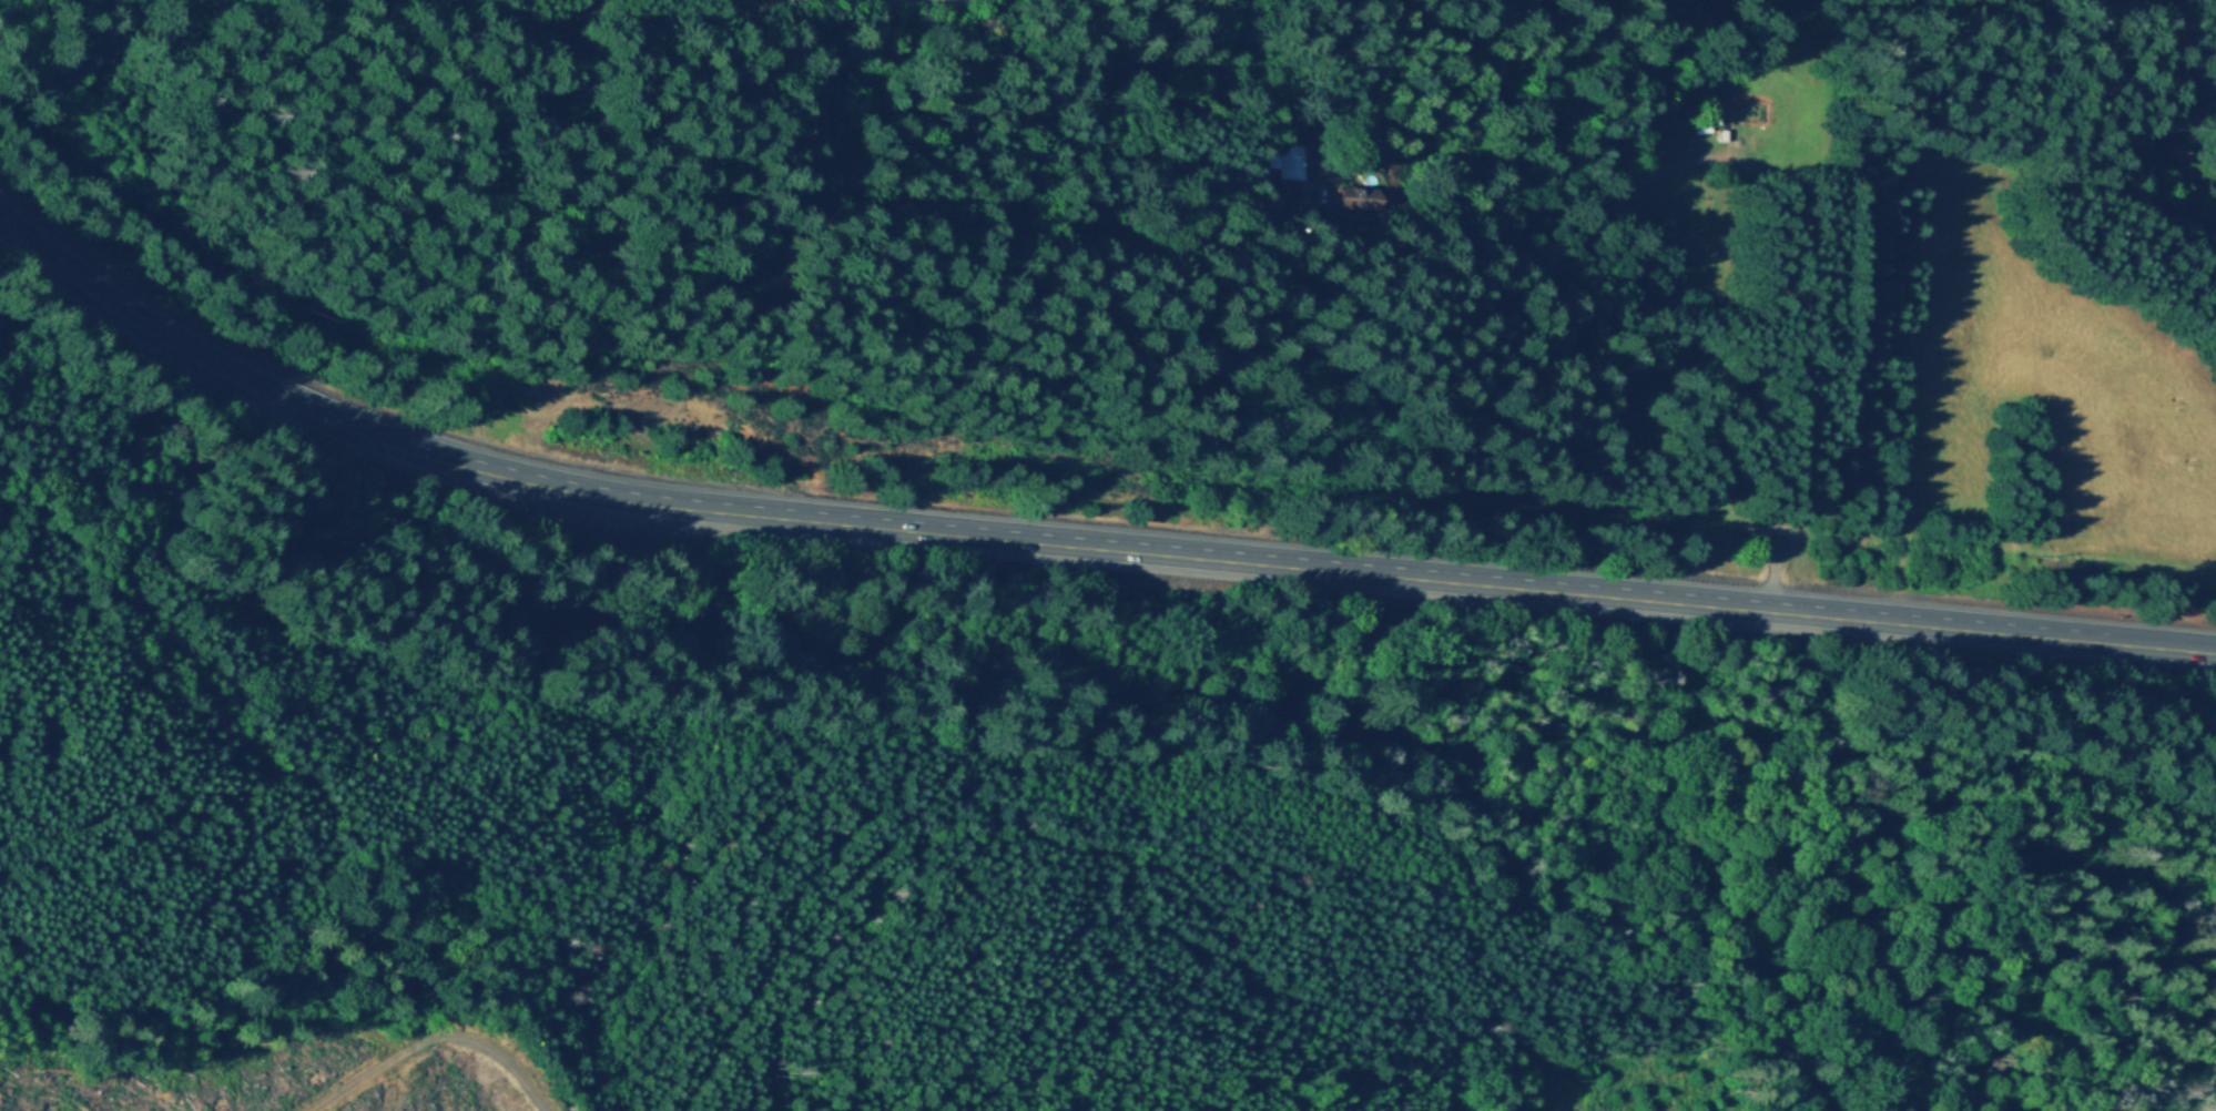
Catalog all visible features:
road: (851, 3)
road: (771, 8)
road: (1737, 161)
building: (1293, 162)
building: (1355, 197)
crop: (2046, 386)
road: (340, 425)
road: (1472, 583)
road: (186, 784)
road: (922, 833)
road: (275, 916)
road: (1498, 1030)
road: (1808, 1084)

